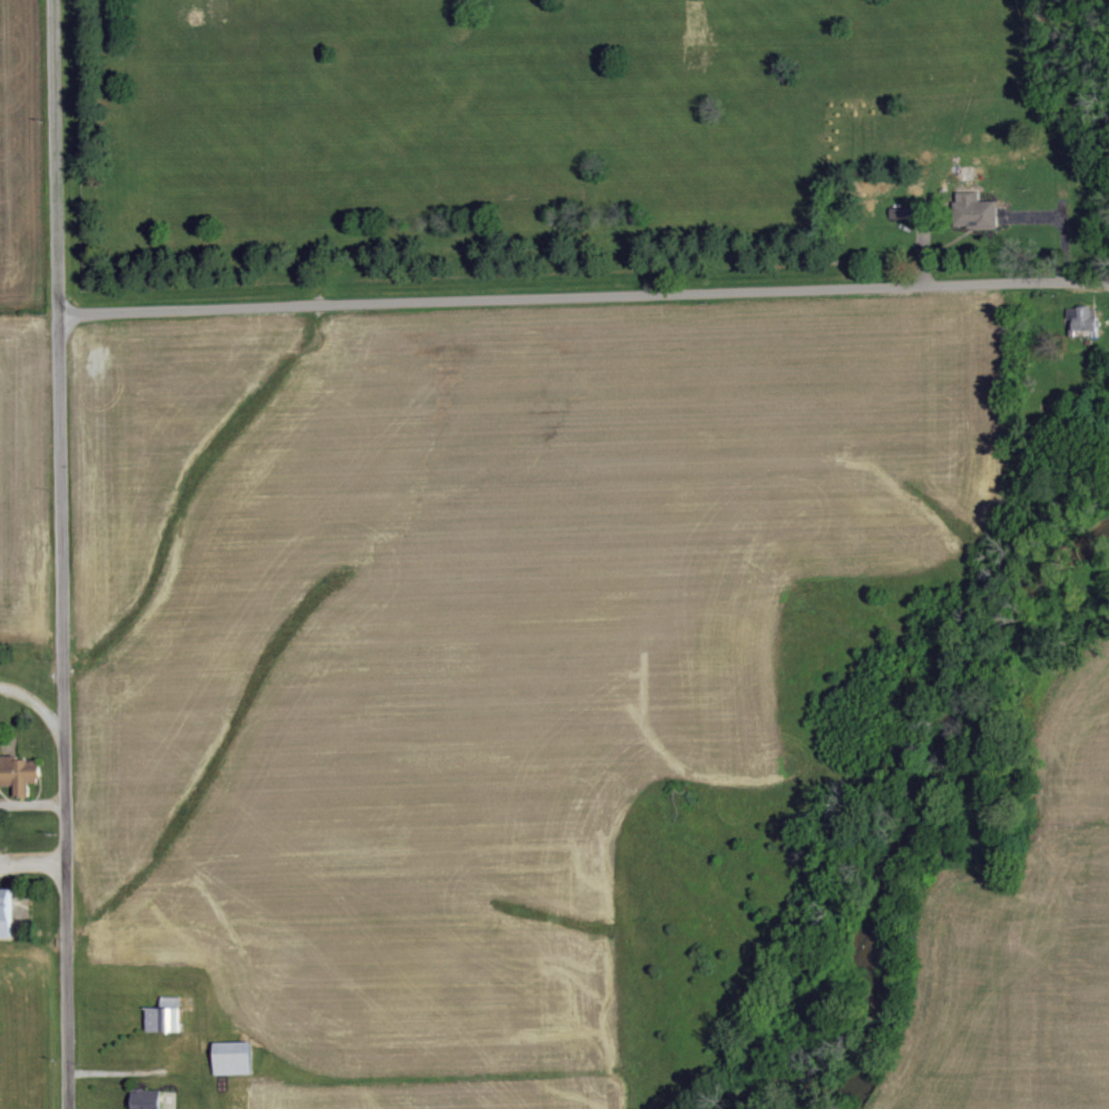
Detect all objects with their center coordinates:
park: (597, 131)
building: (978, 212)
building: (904, 214)
road: (585, 295)
building: (1085, 323)
road: (62, 553)
road: (37, 701)
building: (20, 773)
road: (32, 861)
building: (8, 912)
building: (168, 1015)
building: (235, 1058)
building: (148, 1099)

